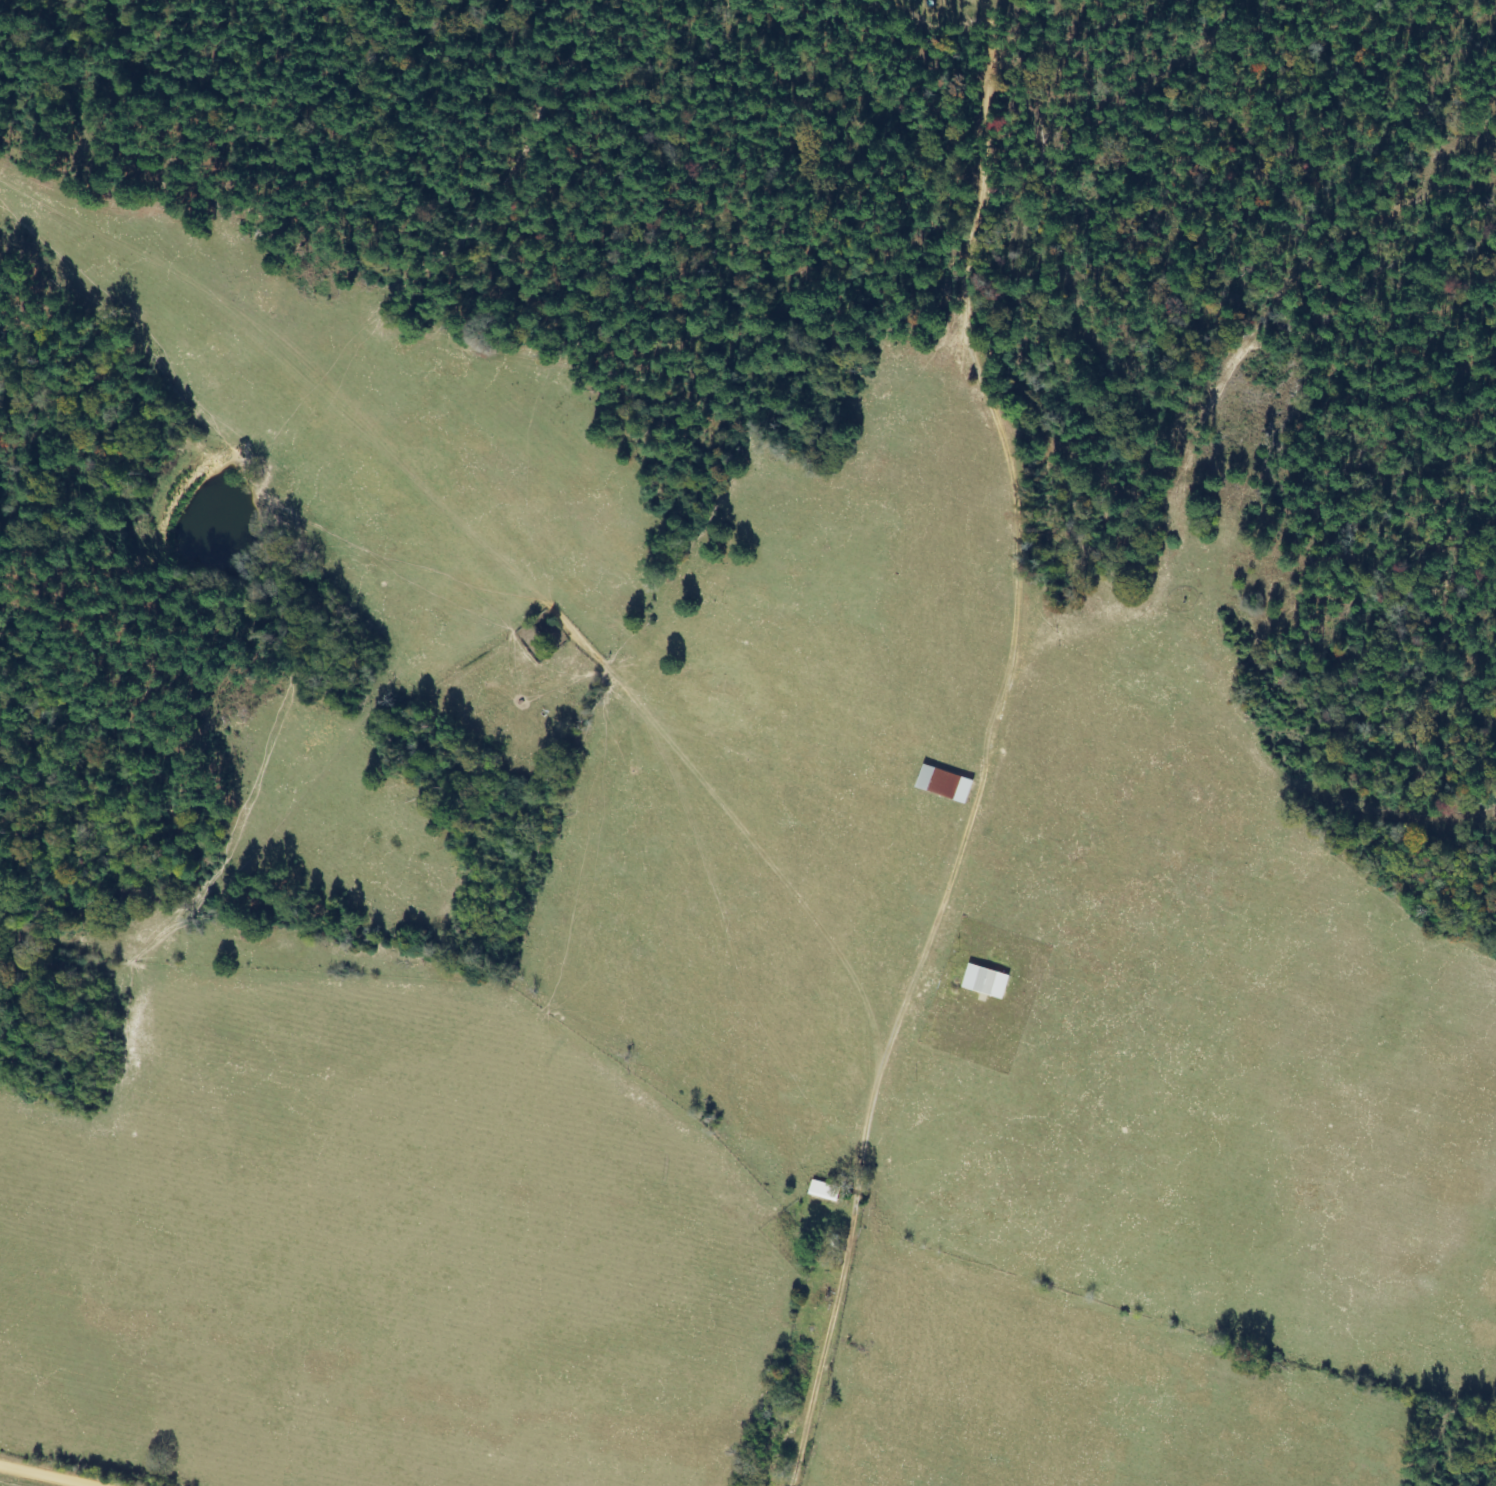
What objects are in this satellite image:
road: (965, 757)
building: (946, 784)
building: (987, 981)
road: (89, 1466)
road: (113, 1479)
road: (743, 1483)

